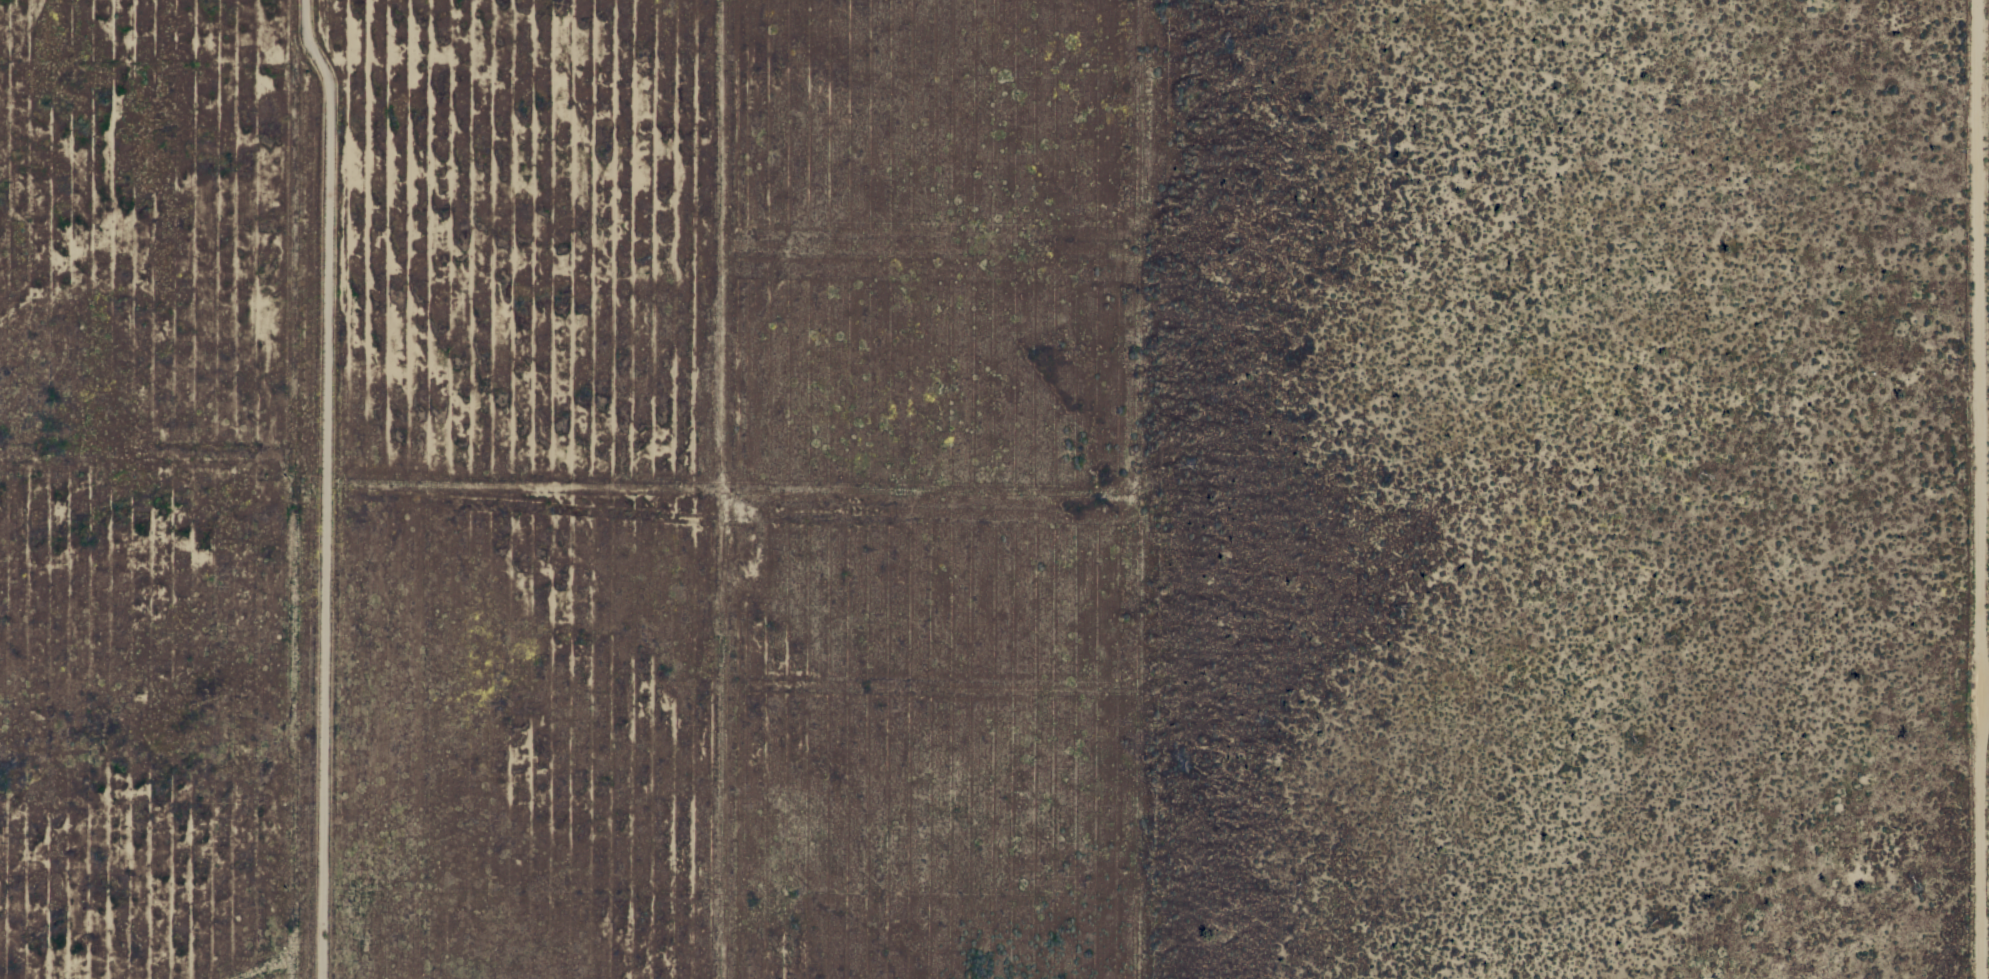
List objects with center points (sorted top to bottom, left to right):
road: (330, 486)
road: (1986, 489)

